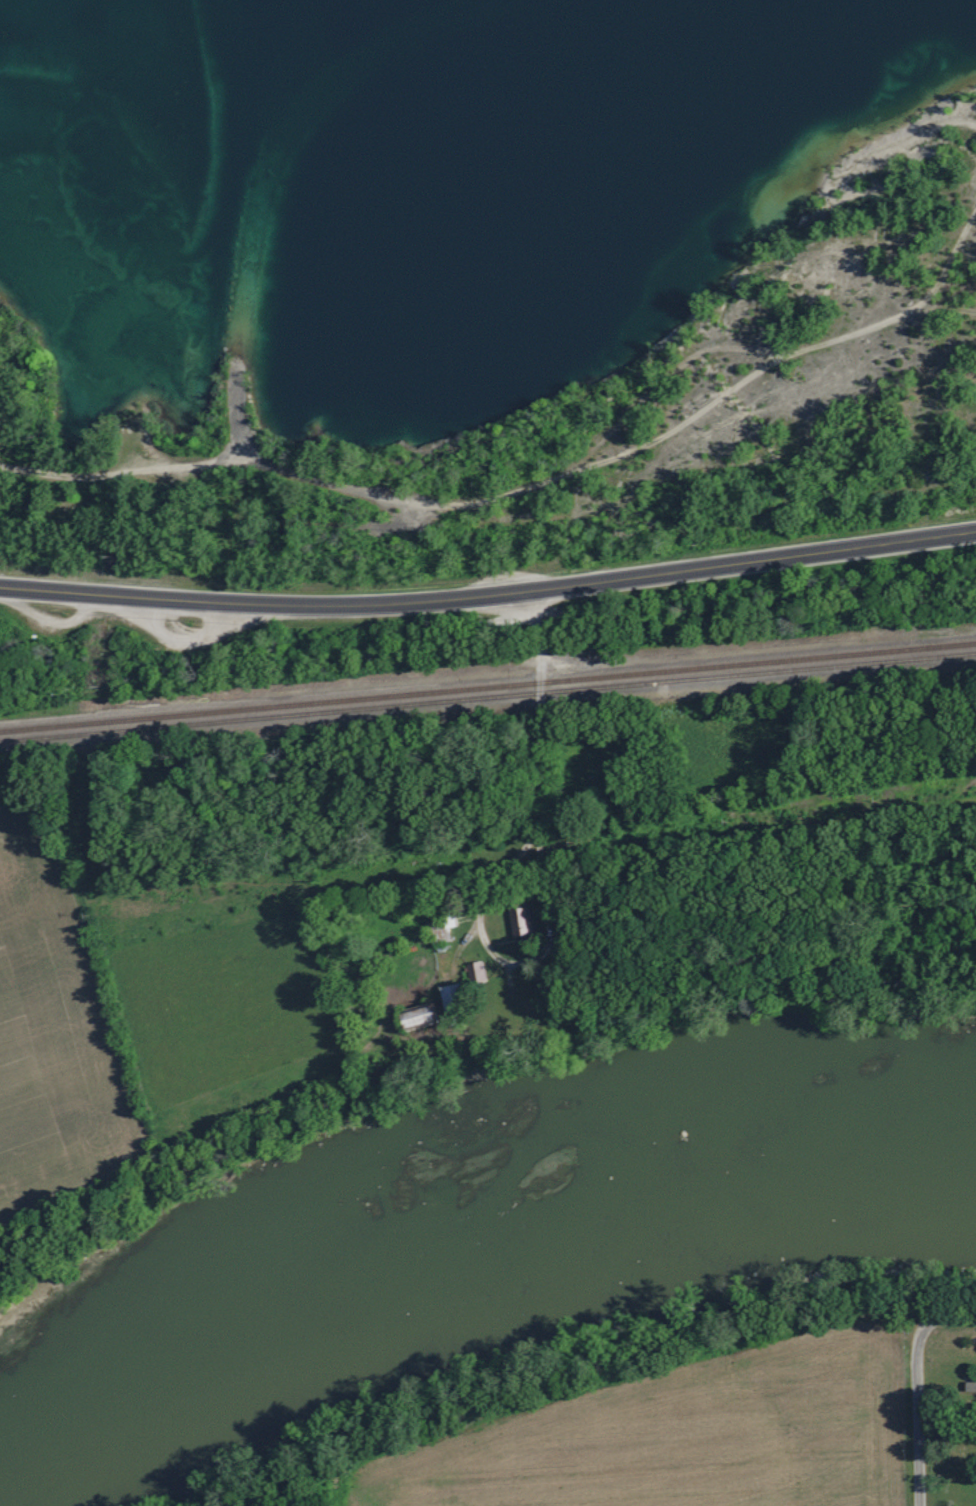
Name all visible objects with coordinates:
road: (489, 598)
railway: (488, 686)
railway: (488, 697)
road: (760, 825)
road: (547, 868)
building: (525, 923)
building: (479, 972)
building: (458, 998)
building: (429, 1014)
river: (463, 1246)
road: (952, 1315)
building: (973, 1387)
road: (917, 1412)

